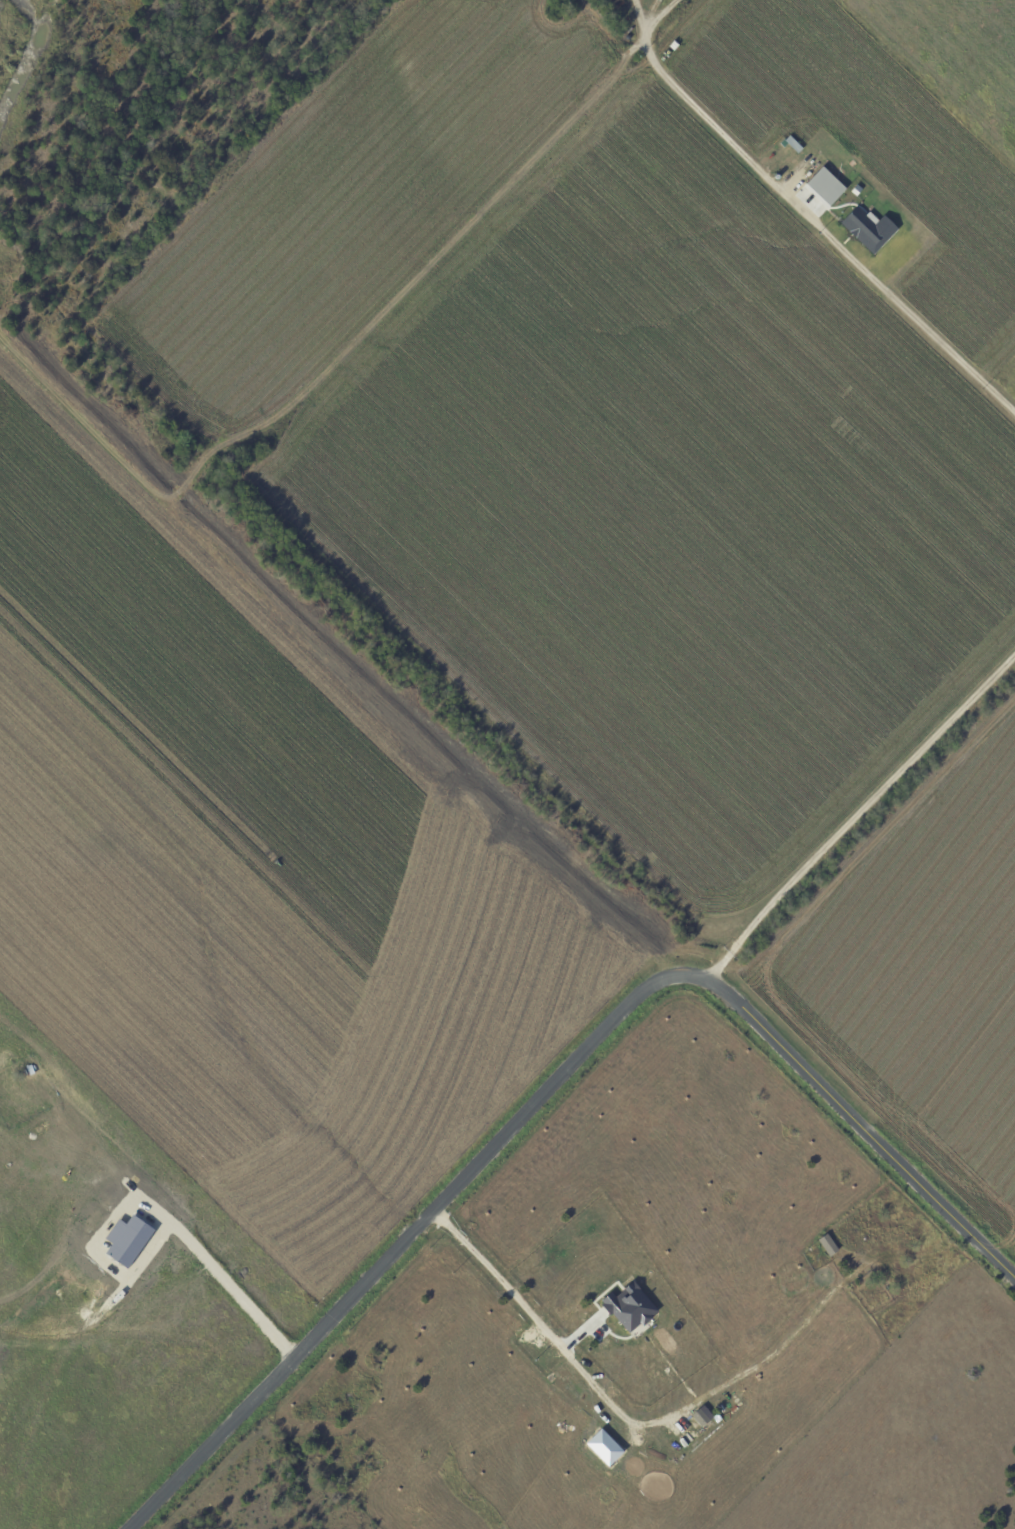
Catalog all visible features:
building: (616, 6)
building: (825, 189)
road: (808, 216)
building: (859, 223)
road: (859, 813)
road: (559, 1080)
building: (828, 1245)
road: (159, 1248)
building: (633, 1307)
building: (705, 1416)

